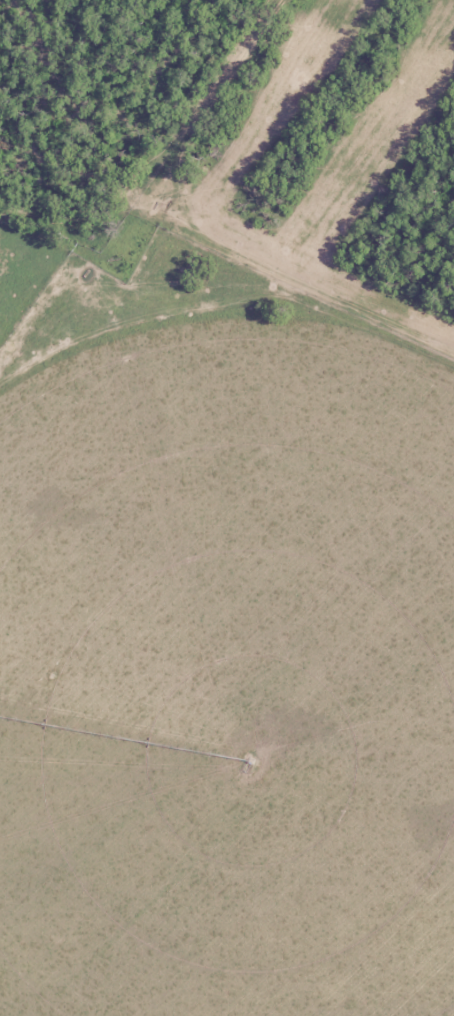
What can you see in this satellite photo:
road: (139, 179)

